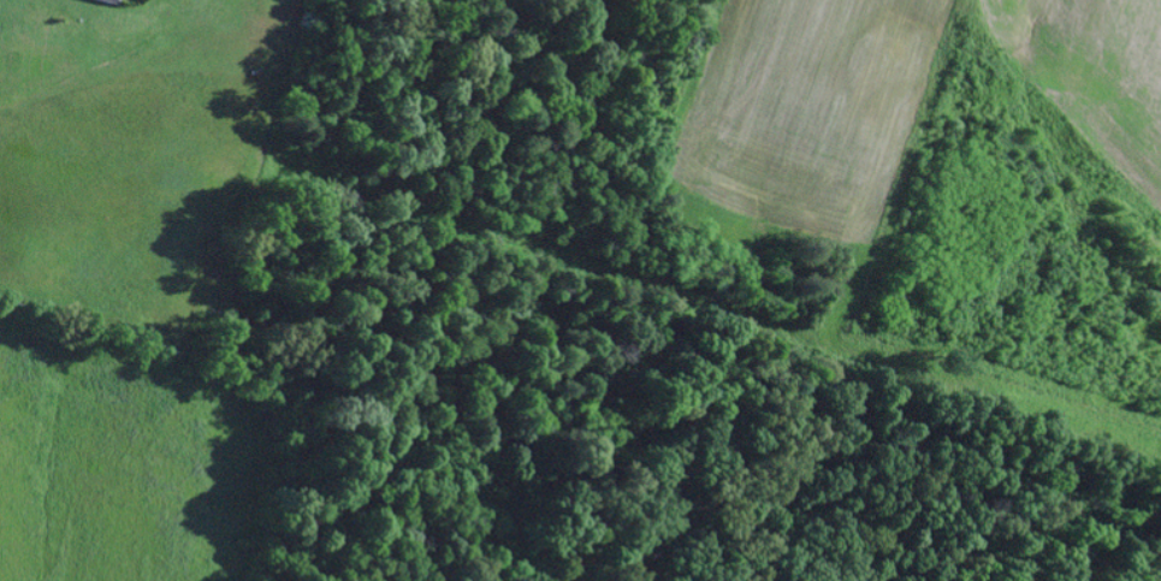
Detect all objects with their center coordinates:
building: (109, 1)

